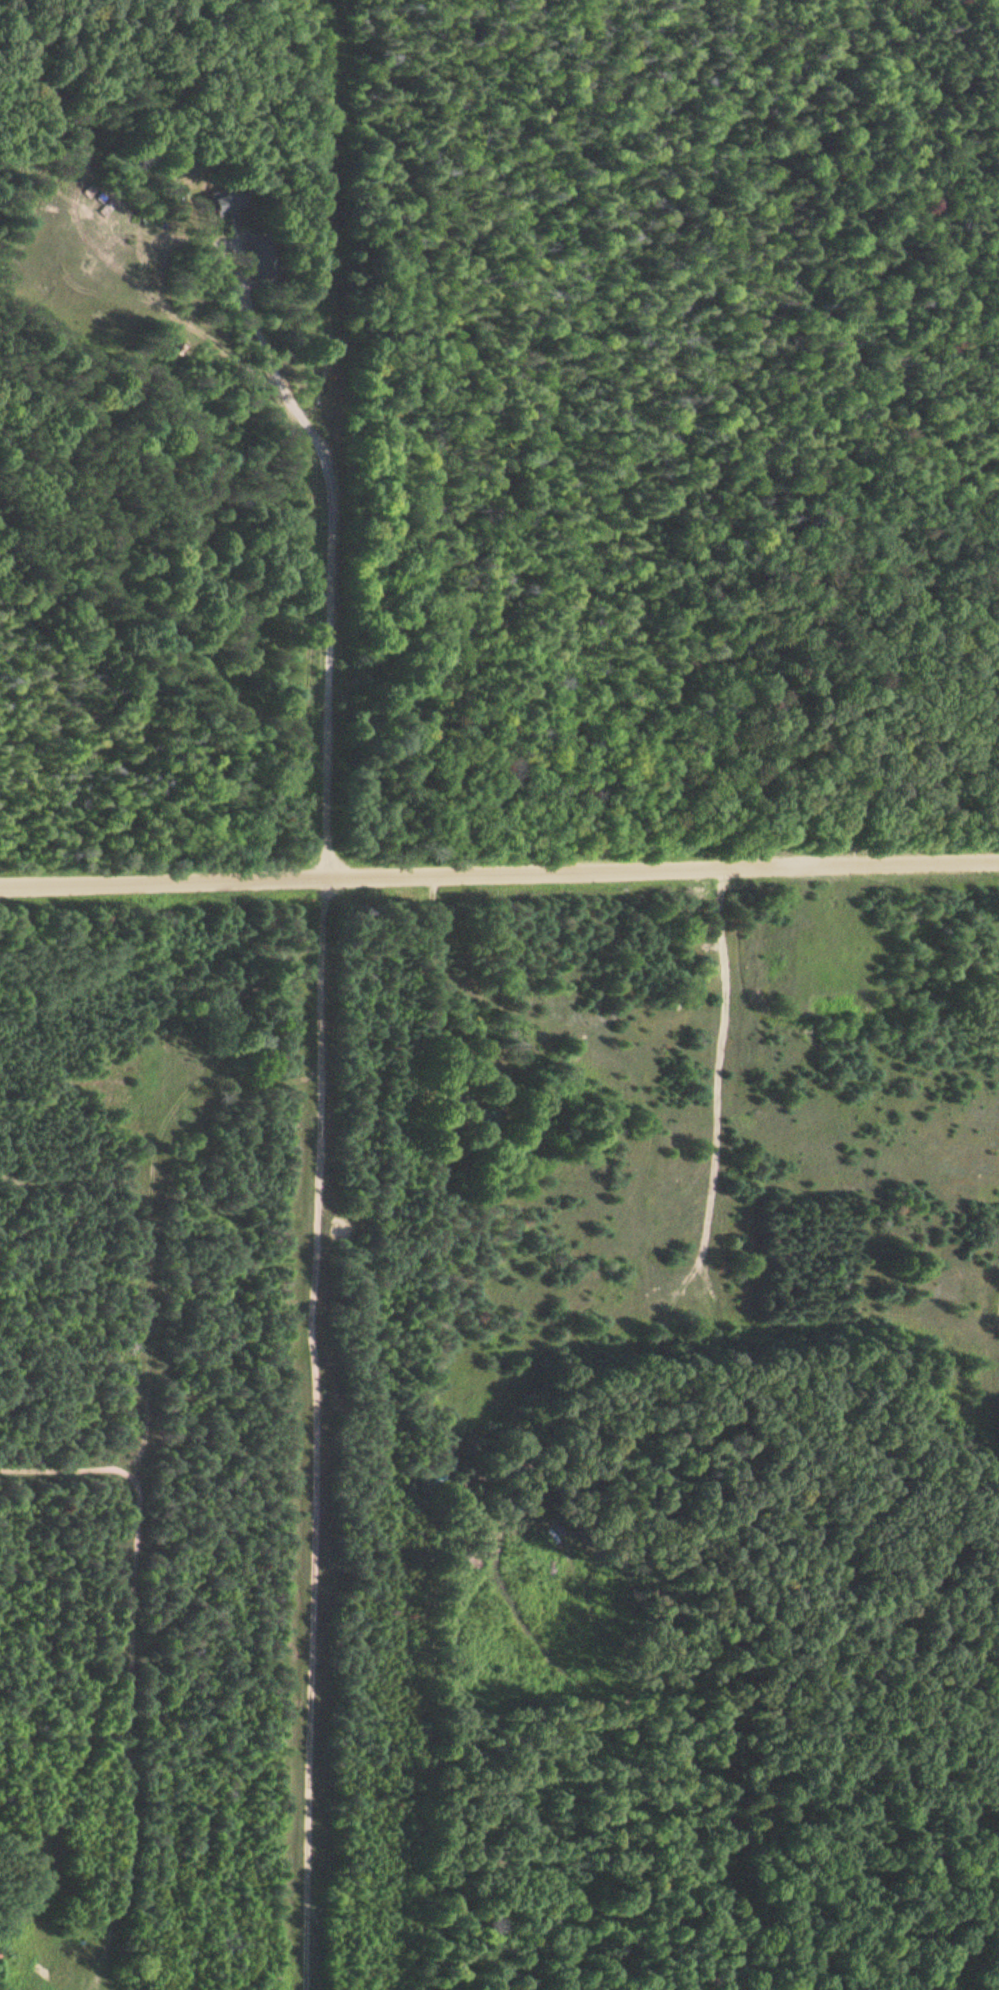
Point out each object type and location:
building: (227, 199)
road: (499, 873)
building: (495, 1114)
building: (477, 1139)

